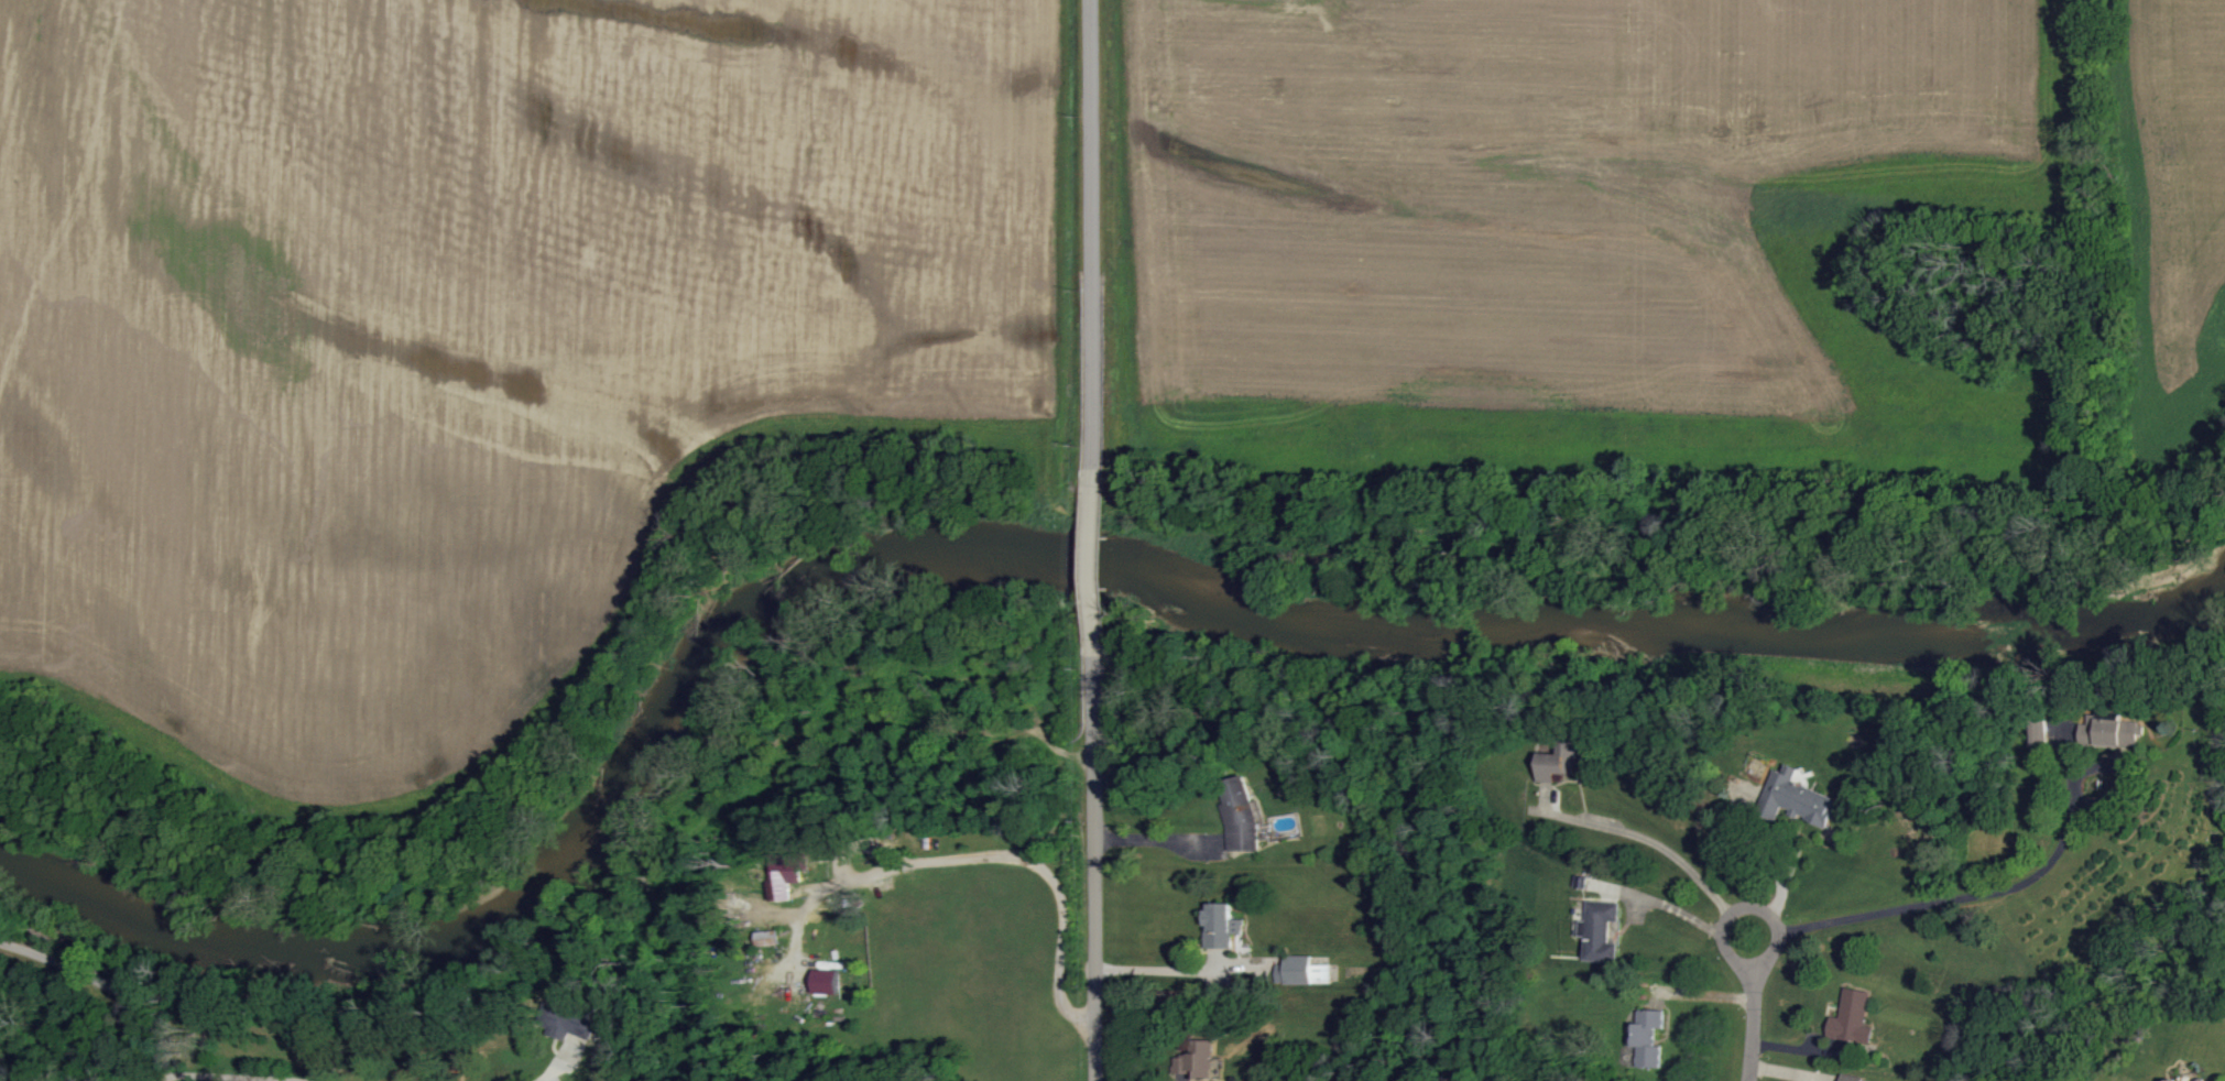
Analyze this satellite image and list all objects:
road: (1091, 232)
river: (1030, 535)
road: (1092, 561)
building: (2113, 732)
building: (1558, 761)
building: (1796, 796)
building: (1239, 812)
road: (1155, 840)
road: (1659, 842)
road: (1028, 862)
building: (786, 870)
road: (1093, 870)
road: (1946, 904)
building: (1223, 924)
building: (1600, 931)
building: (766, 938)
road: (31, 948)
building: (1306, 968)
road: (1173, 970)
building: (825, 982)
road: (131, 1001)
road: (1753, 1006)
building: (1853, 1017)
building: (565, 1022)
building: (1647, 1037)
building: (1198, 1055)
road: (546, 1072)
road: (238, 1073)
building: (1851, 1078)
building: (2172, 1080)
building: (2202, 1080)

